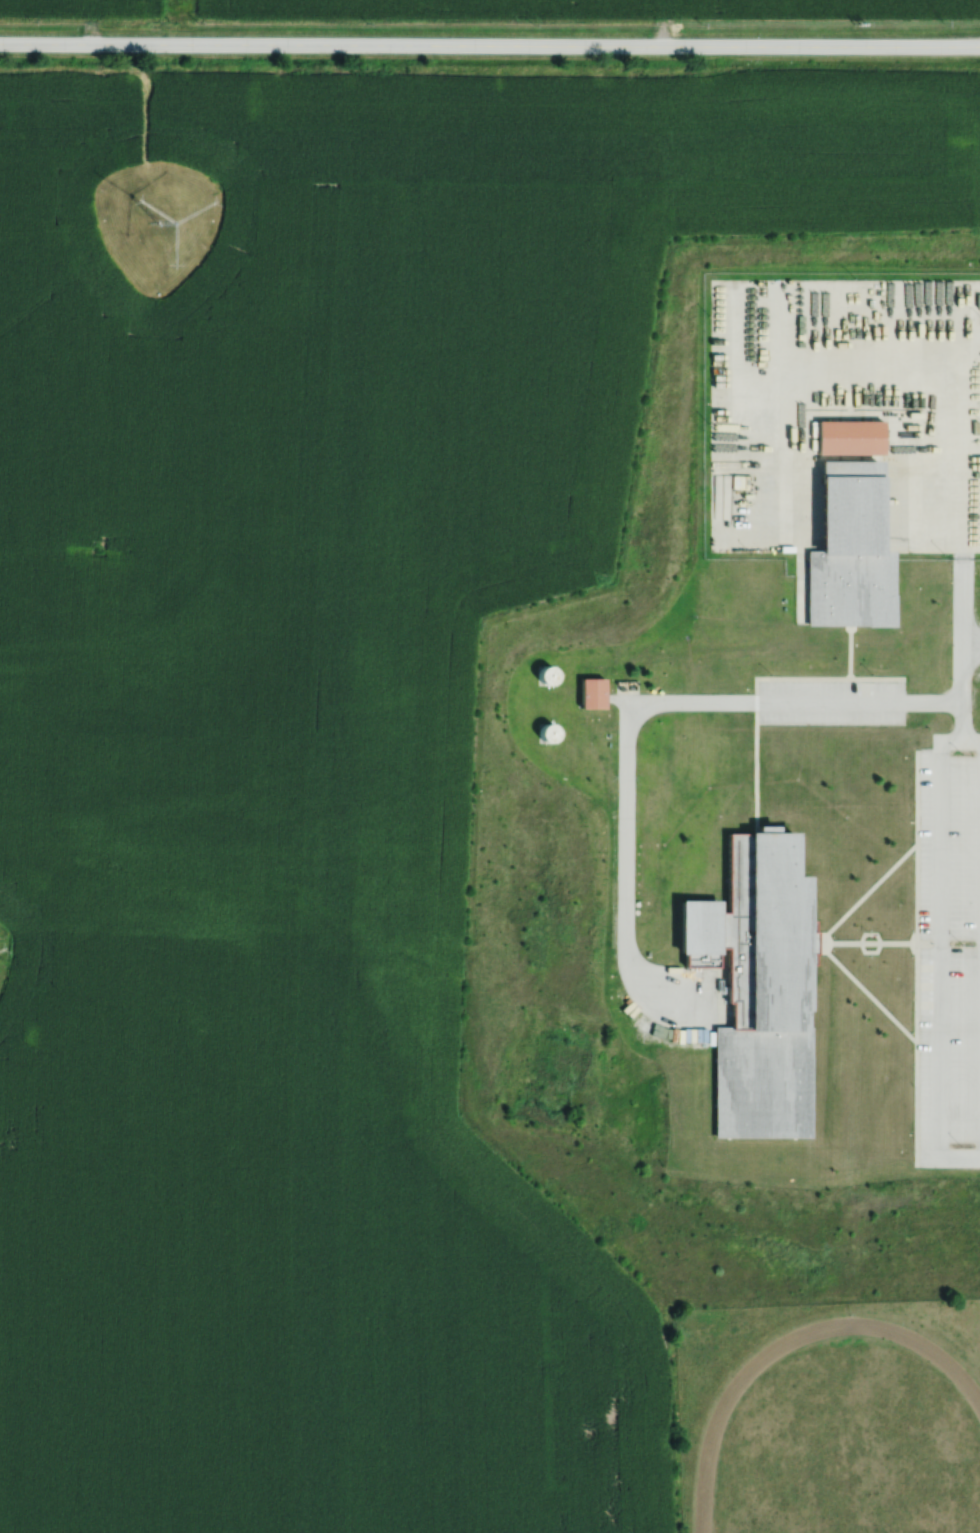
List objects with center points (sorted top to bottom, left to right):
road: (490, 44)
road: (114, 73)
building: (849, 437)
building: (719, 497)
building: (850, 548)
road: (962, 601)
road: (849, 651)
road: (962, 664)
building: (547, 673)
storage tank: (547, 673)
road: (756, 682)
building: (592, 693)
road: (616, 700)
parking lot: (831, 702)
road: (627, 714)
building: (547, 732)
storage tank: (547, 732)
road: (971, 736)
road: (871, 888)
flagpole: (870, 930)
road: (878, 942)
road: (881, 943)
road: (939, 943)
road: (955, 943)
road: (827, 952)
parking lot: (949, 956)
road: (916, 958)
building: (757, 984)
road: (871, 997)

